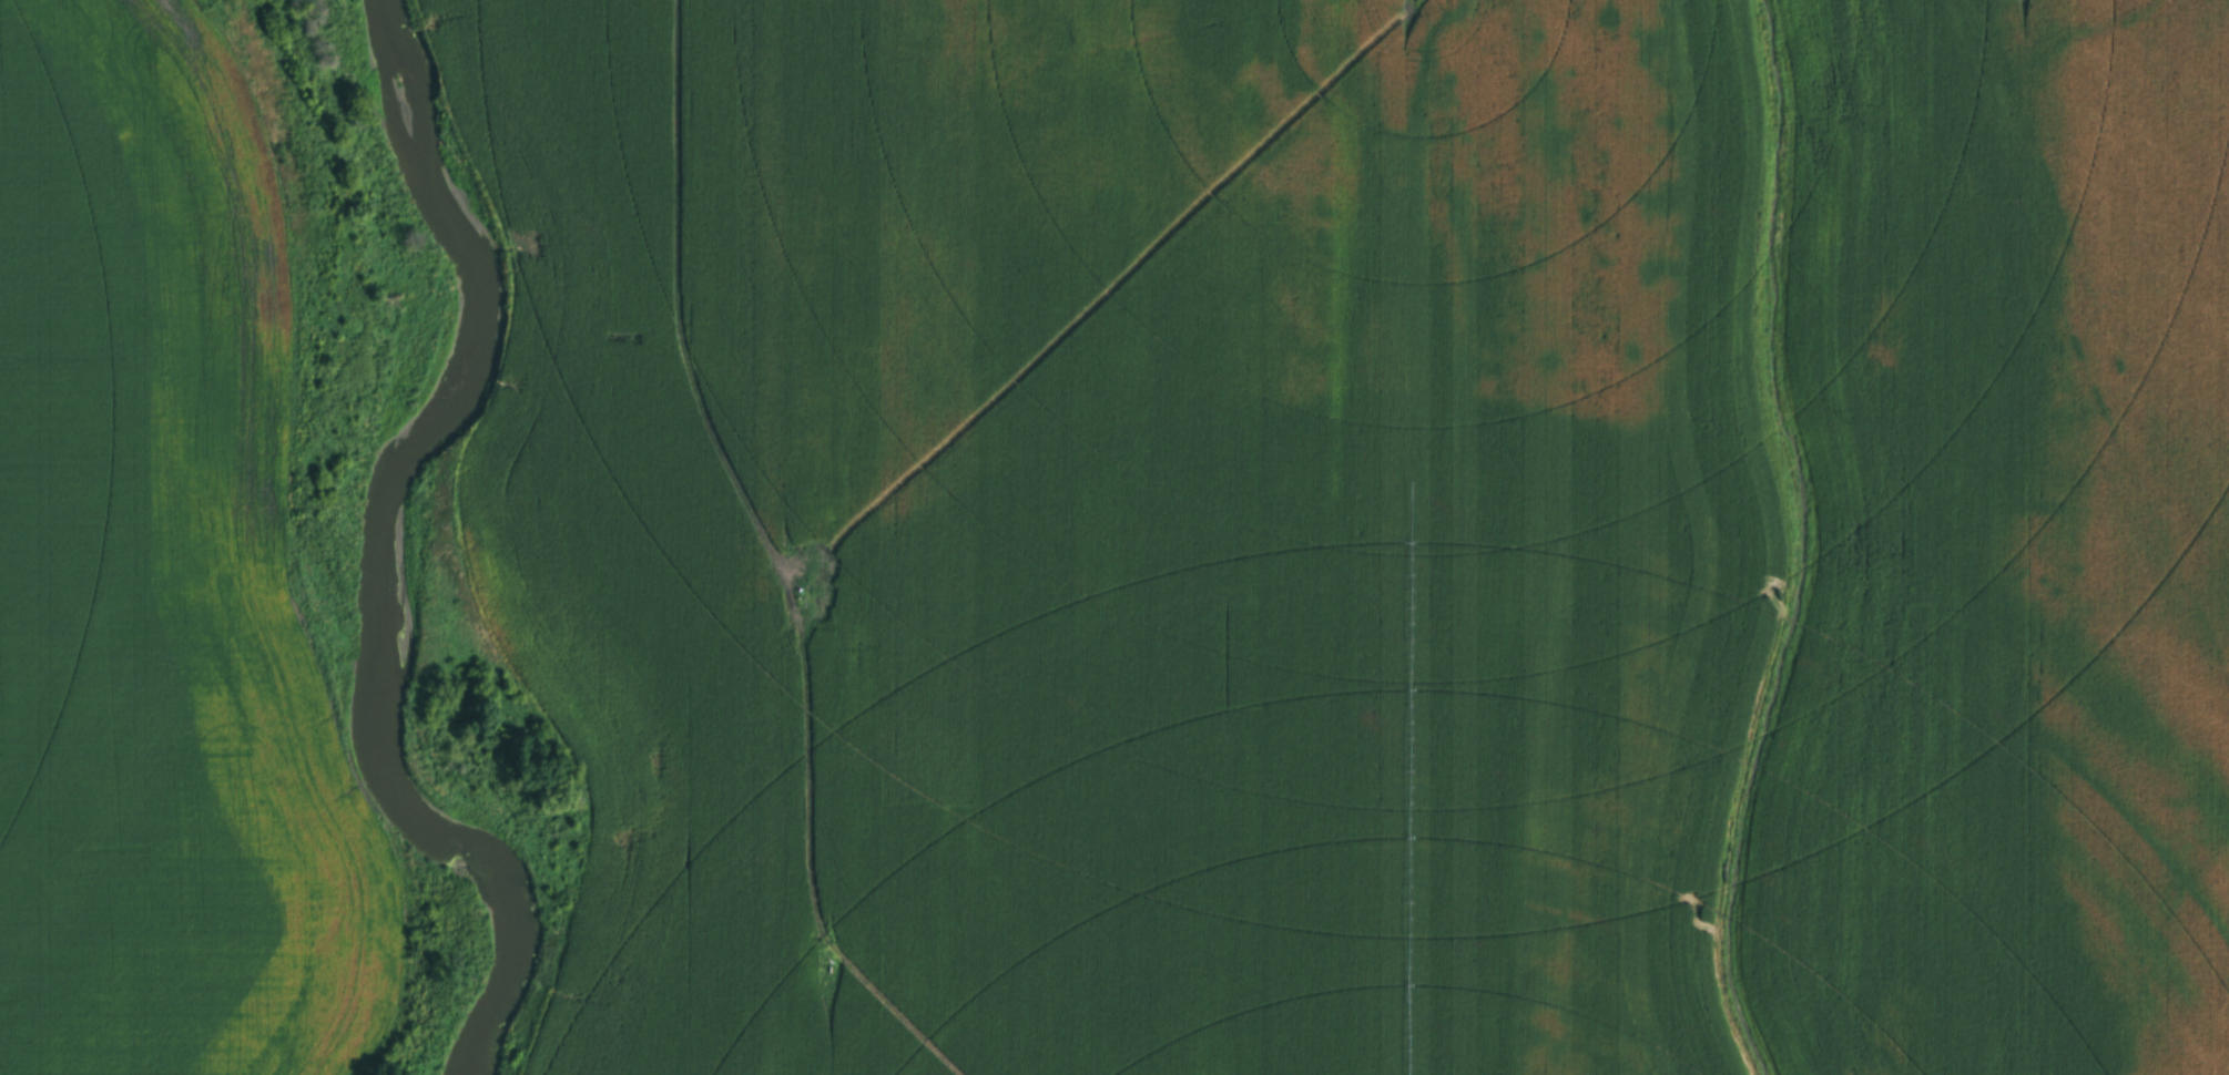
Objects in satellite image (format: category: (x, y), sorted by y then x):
river: (404, 554)

